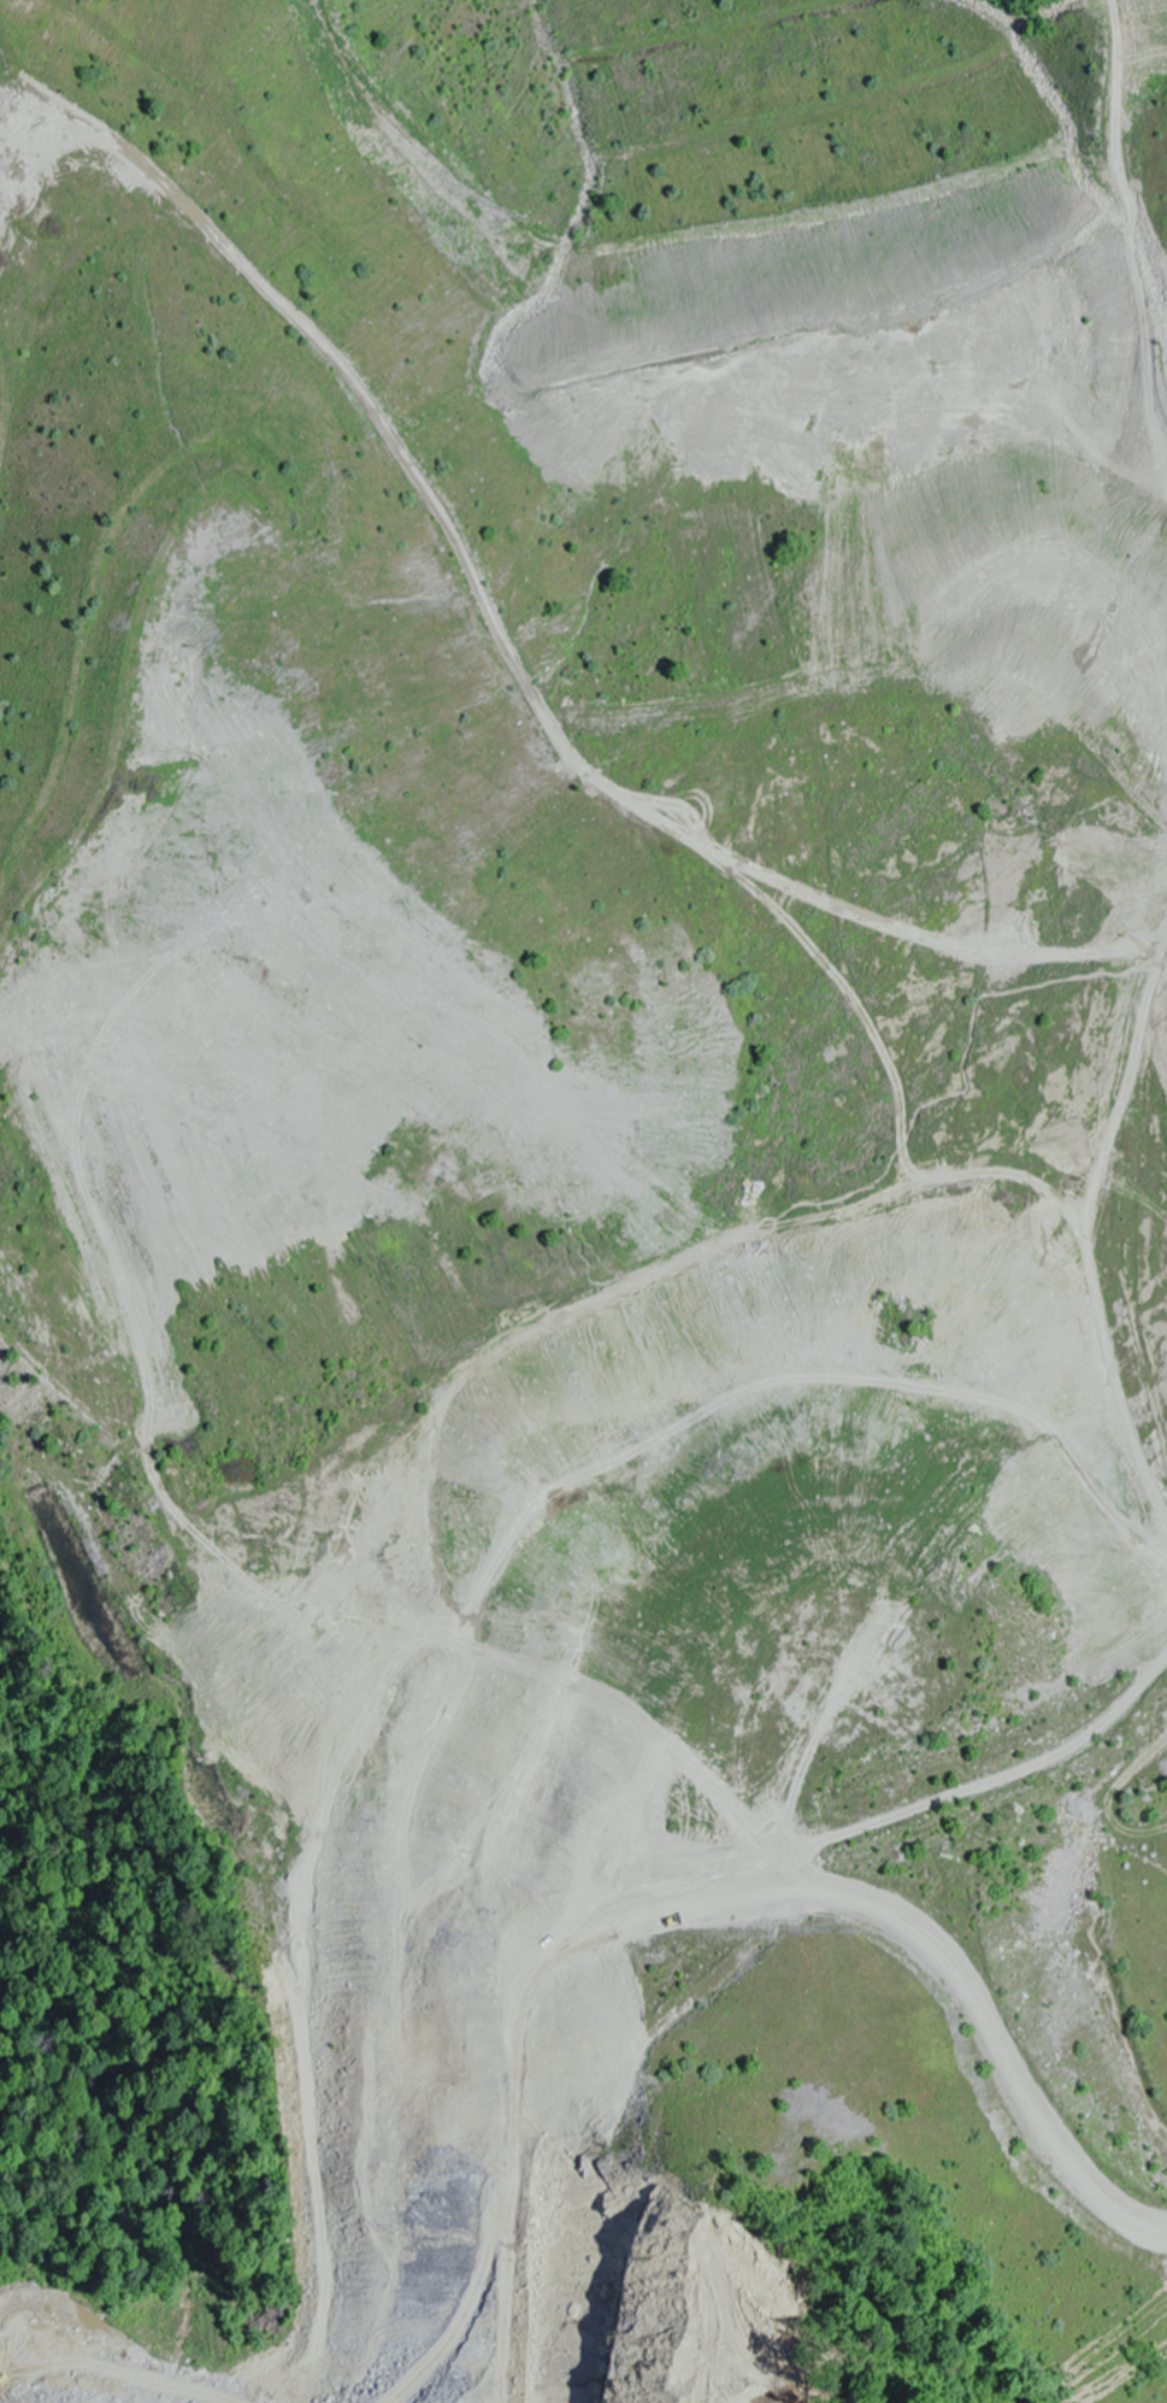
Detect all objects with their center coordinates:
building: (1001, 1085)

